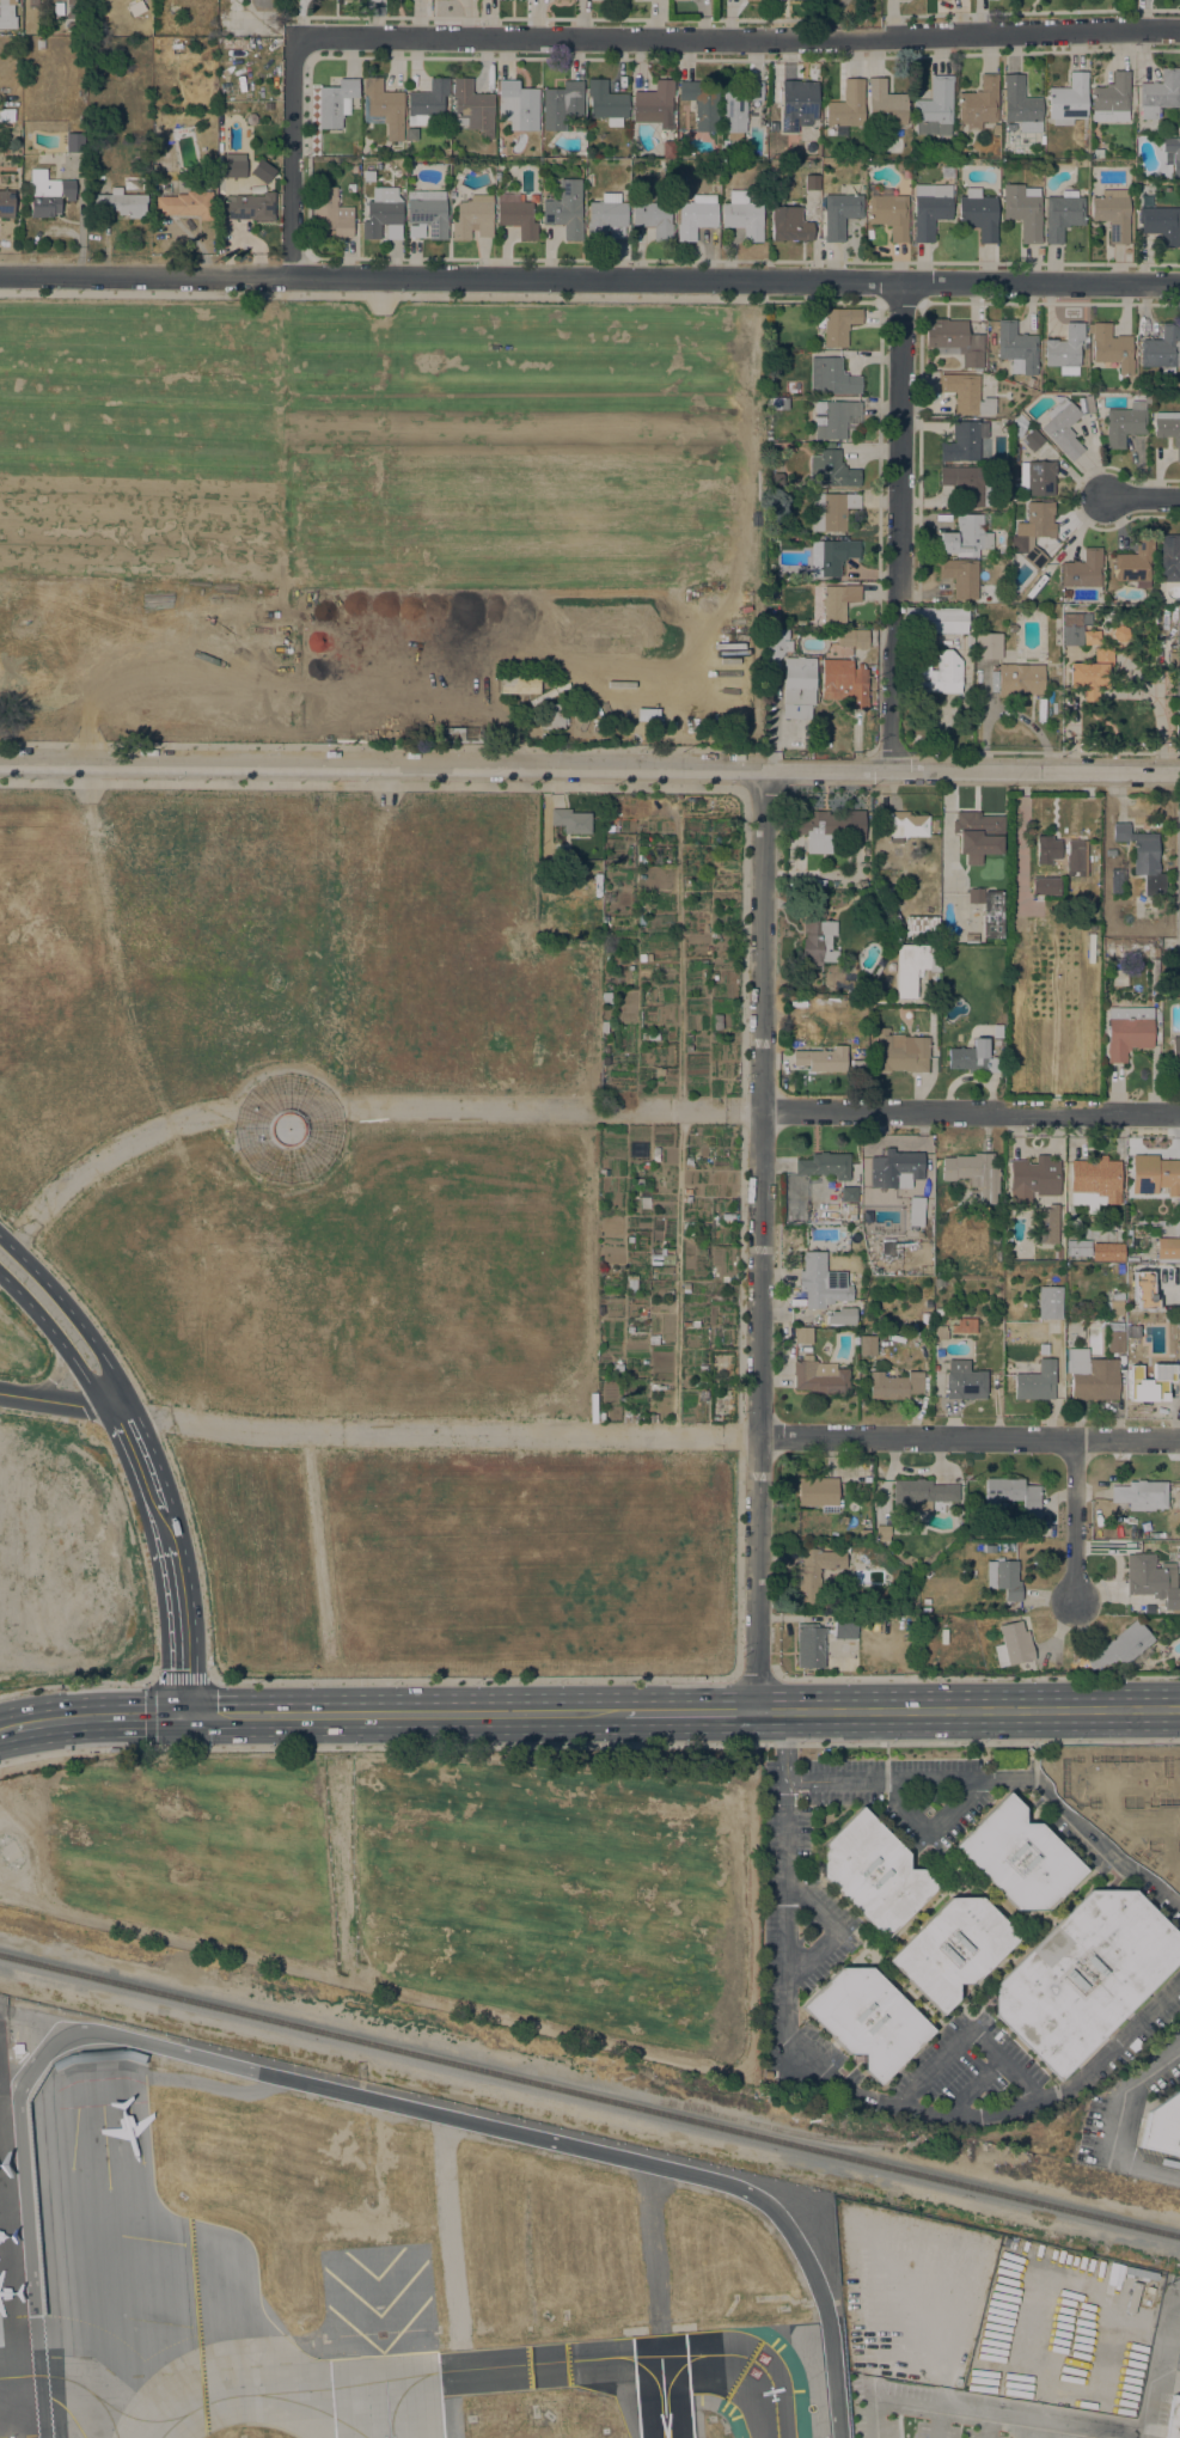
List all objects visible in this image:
building: (679, 0)
building: (753, 0)
building: (375, 1)
building: (32, 2)
building: (136, 8)
building: (5, 12)
building: (74, 14)
road: (837, 17)
road: (738, 38)
building: (1160, 94)
building: (1111, 99)
building: (1068, 100)
building: (428, 102)
building: (335, 103)
building: (606, 103)
building: (561, 104)
building: (654, 104)
building: (797, 104)
building: (885, 104)
building: (978, 104)
building: (518, 105)
building: (701, 105)
building: (1021, 105)
building: (738, 106)
building: (383, 108)
building: (472, 108)
building: (846, 108)
building: (934, 108)
building: (6, 115)
building: (995, 129)
building: (1179, 130)
building: (74, 142)
building: (667, 149)
building: (501, 151)
building: (534, 151)
building: (1098, 153)
building: (870, 154)
building: (1172, 154)
road: (291, 160)
building: (231, 167)
building: (408, 167)
building: (354, 170)
building: (1038, 170)
building: (262, 171)
building: (812, 183)
building: (48, 194)
building: (120, 203)
building: (6, 204)
building: (185, 204)
building: (249, 207)
building: (565, 209)
building: (929, 209)
building: (1023, 210)
building: (331, 213)
building: (381, 213)
building: (427, 214)
building: (839, 214)
building: (1112, 214)
building: (516, 215)
building: (742, 215)
building: (891, 215)
building: (1062, 215)
building: (607, 216)
building: (978, 216)
building: (473, 218)
building: (653, 219)
building: (695, 220)
building: (1160, 224)
building: (789, 225)
road: (589, 277)
road: (377, 294)
building: (836, 324)
building: (954, 341)
building: (1111, 347)
building: (1016, 348)
building: (1162, 348)
building: (1064, 349)
building: (831, 378)
building: (966, 395)
building: (778, 404)
building: (1088, 404)
crop: (483, 417)
building: (836, 418)
building: (1125, 423)
building: (1063, 428)
building: (1168, 429)
building: (1032, 440)
building: (962, 441)
building: (830, 469)
building: (1035, 478)
building: (776, 479)
building: (967, 483)
road: (1144, 497)
building: (831, 511)
building: (1038, 520)
road: (903, 526)
building: (965, 537)
building: (1017, 544)
building: (830, 556)
building: (1034, 557)
building: (1169, 558)
building: (1014, 560)
building: (1135, 563)
building: (1083, 570)
building: (960, 578)
building: (770, 589)
building: (837, 601)
building: (935, 619)
building: (1074, 628)
building: (1011, 629)
building: (1090, 637)
building: (852, 638)
building: (988, 646)
building: (775, 648)
building: (1172, 660)
building: (936, 674)
building: (1090, 674)
building: (1020, 679)
building: (843, 680)
building: (545, 682)
building: (519, 685)
building: (797, 688)
building: (542, 697)
building: (647, 714)
building: (551, 716)
building: (457, 735)
road: (378, 746)
road: (589, 769)
road: (530, 787)
building: (609, 815)
building: (570, 820)
building: (905, 825)
building: (829, 829)
building: (977, 836)
building: (641, 849)
building: (1074, 849)
building: (1046, 850)
building: (1143, 859)
building: (641, 861)
building: (1117, 880)
building: (1045, 886)
building: (609, 897)
building: (888, 906)
building: (989, 910)
building: (919, 928)
building: (597, 930)
building: (817, 933)
building: (1170, 933)
building: (971, 939)
building: (946, 947)
building: (1154, 952)
building: (913, 966)
building: (889, 967)
building: (605, 1000)
building: (794, 1000)
building: (1127, 1032)
building: (649, 1037)
building: (641, 1044)
building: (1175, 1050)
building: (900, 1052)
building: (973, 1058)
building: (821, 1059)
building: (604, 1061)
building: (854, 1061)
road: (562, 1108)
road: (971, 1111)
building: (286, 1129)
building: (655, 1155)
building: (825, 1166)
building: (894, 1167)
building: (973, 1175)
building: (1154, 1175)
building: (1032, 1180)
building: (1094, 1183)
building: (849, 1194)
building: (687, 1199)
building: (916, 1204)
building: (727, 1217)
building: (1169, 1218)
building: (1046, 1224)
crop: (349, 1226)
building: (687, 1226)
building: (856, 1236)
building: (629, 1239)
road: (760, 1241)
building: (1077, 1248)
building: (1168, 1251)
building: (1107, 1252)
building: (1057, 1253)
building: (1131, 1259)
building: (606, 1271)
building: (821, 1282)
building: (939, 1282)
building: (631, 1284)
building: (1082, 1284)
building: (685, 1288)
building: (1143, 1290)
building: (1048, 1302)
building: (1114, 1303)
building: (936, 1312)
road: (675, 1313)
building: (842, 1316)
building: (1156, 1319)
building: (924, 1320)
road: (80, 1324)
building: (940, 1332)
building: (801, 1334)
building: (1114, 1337)
building: (653, 1340)
building: (1173, 1344)
building: (867, 1345)
road: (66, 1352)
building: (702, 1370)
building: (1090, 1376)
building: (819, 1377)
road: (50, 1381)
building: (964, 1381)
building: (1035, 1382)
building: (1153, 1383)
building: (894, 1386)
road: (62, 1404)
road: (155, 1428)
road: (968, 1437)
road: (147, 1471)
building: (817, 1491)
building: (921, 1495)
building: (1139, 1495)
building: (1011, 1496)
building: (801, 1511)
road: (1074, 1517)
road: (166, 1529)
building: (881, 1533)
building: (989, 1548)
road: (141, 1550)
building: (814, 1574)
building: (1003, 1578)
building: (1151, 1581)
building: (843, 1630)
road: (183, 1631)
building: (1013, 1645)
building: (809, 1646)
building: (1120, 1646)
road: (738, 1656)
road: (979, 1676)
road: (756, 1679)
road: (149, 1684)
road: (74, 1685)
road: (967, 1709)
road: (687, 1711)
road: (403, 1713)
road: (97, 1715)
traffic signals: (185, 1715)
road: (5, 1728)
road: (588, 1745)
road: (790, 1745)
road: (781, 1750)
building: (1007, 1759)
road: (985, 1777)
road: (1133, 1826)
road: (927, 1832)
road: (1105, 1847)
building: (1019, 1857)
road: (1166, 1870)
building: (874, 1874)
road: (834, 1927)
building: (952, 1949)
building: (1084, 1976)
building: (867, 2020)
road: (966, 2033)
building: (17, 2048)
road: (337, 2090)
road: (971, 2090)
railway: (589, 2097)
road: (874, 2108)
road: (1123, 2126)
building: (1162, 2126)
airport: (379, 2262)
airport taxiway: (488, 2369)
airport taxiway: (650, 2378)
airport taxiway: (672, 2379)
airport taxiway: (71, 2383)
airport runway: (662, 2388)
airport taxiway: (404, 2395)
airport runway: (385, 2396)
airport taxiway: (310, 2409)
road: (983, 2415)
building: (1173, 2418)
airport taxiway: (143, 2419)
airport taxiway: (775, 2433)

